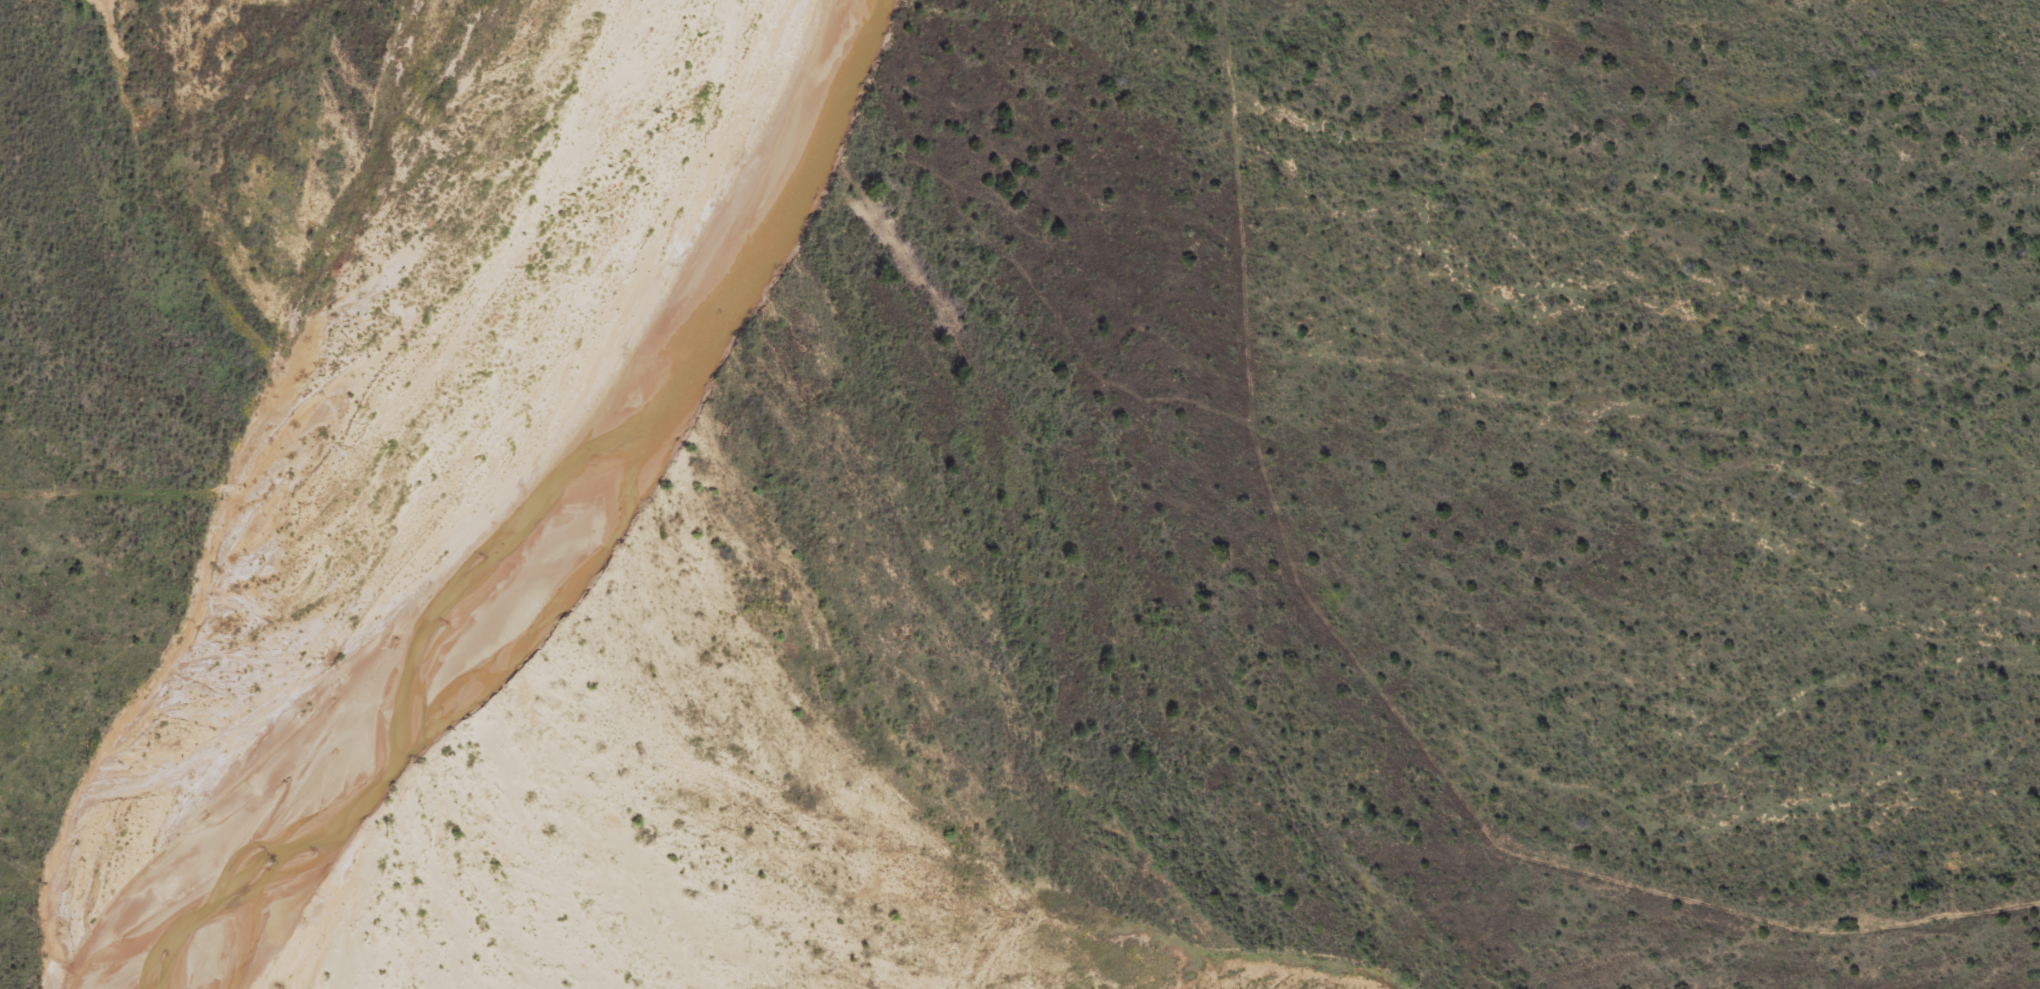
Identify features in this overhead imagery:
river: (781, 514)
road: (1391, 699)

